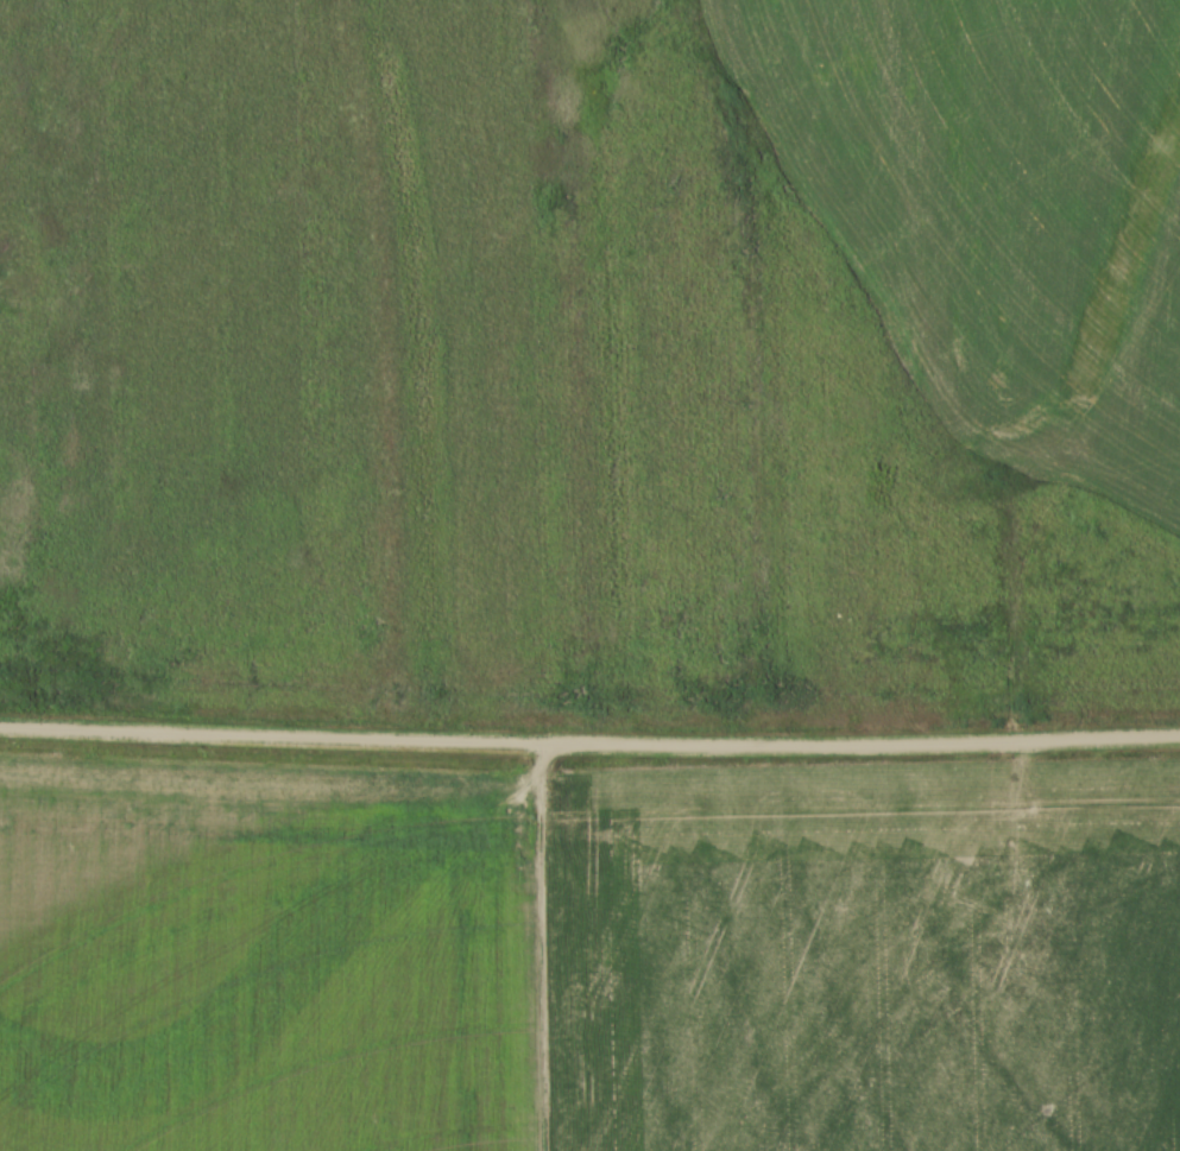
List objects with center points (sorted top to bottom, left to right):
road: (589, 742)

